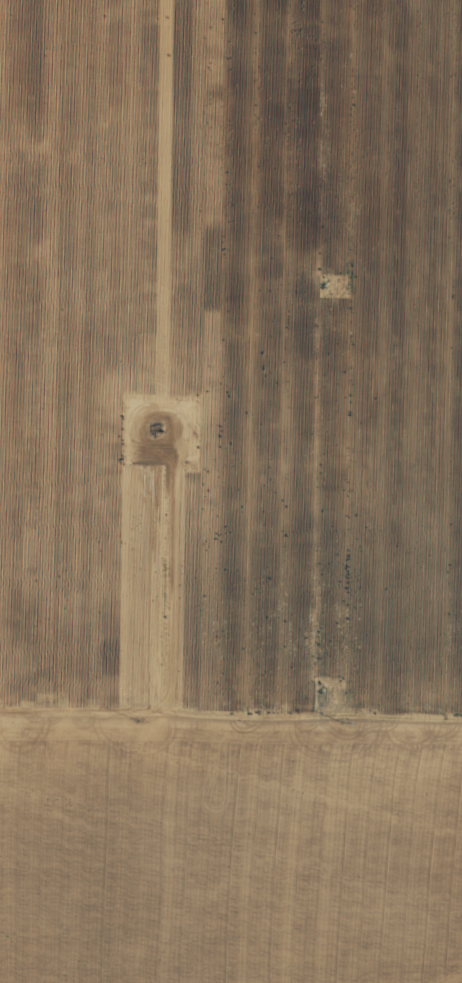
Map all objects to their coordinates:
road: (231, 734)

